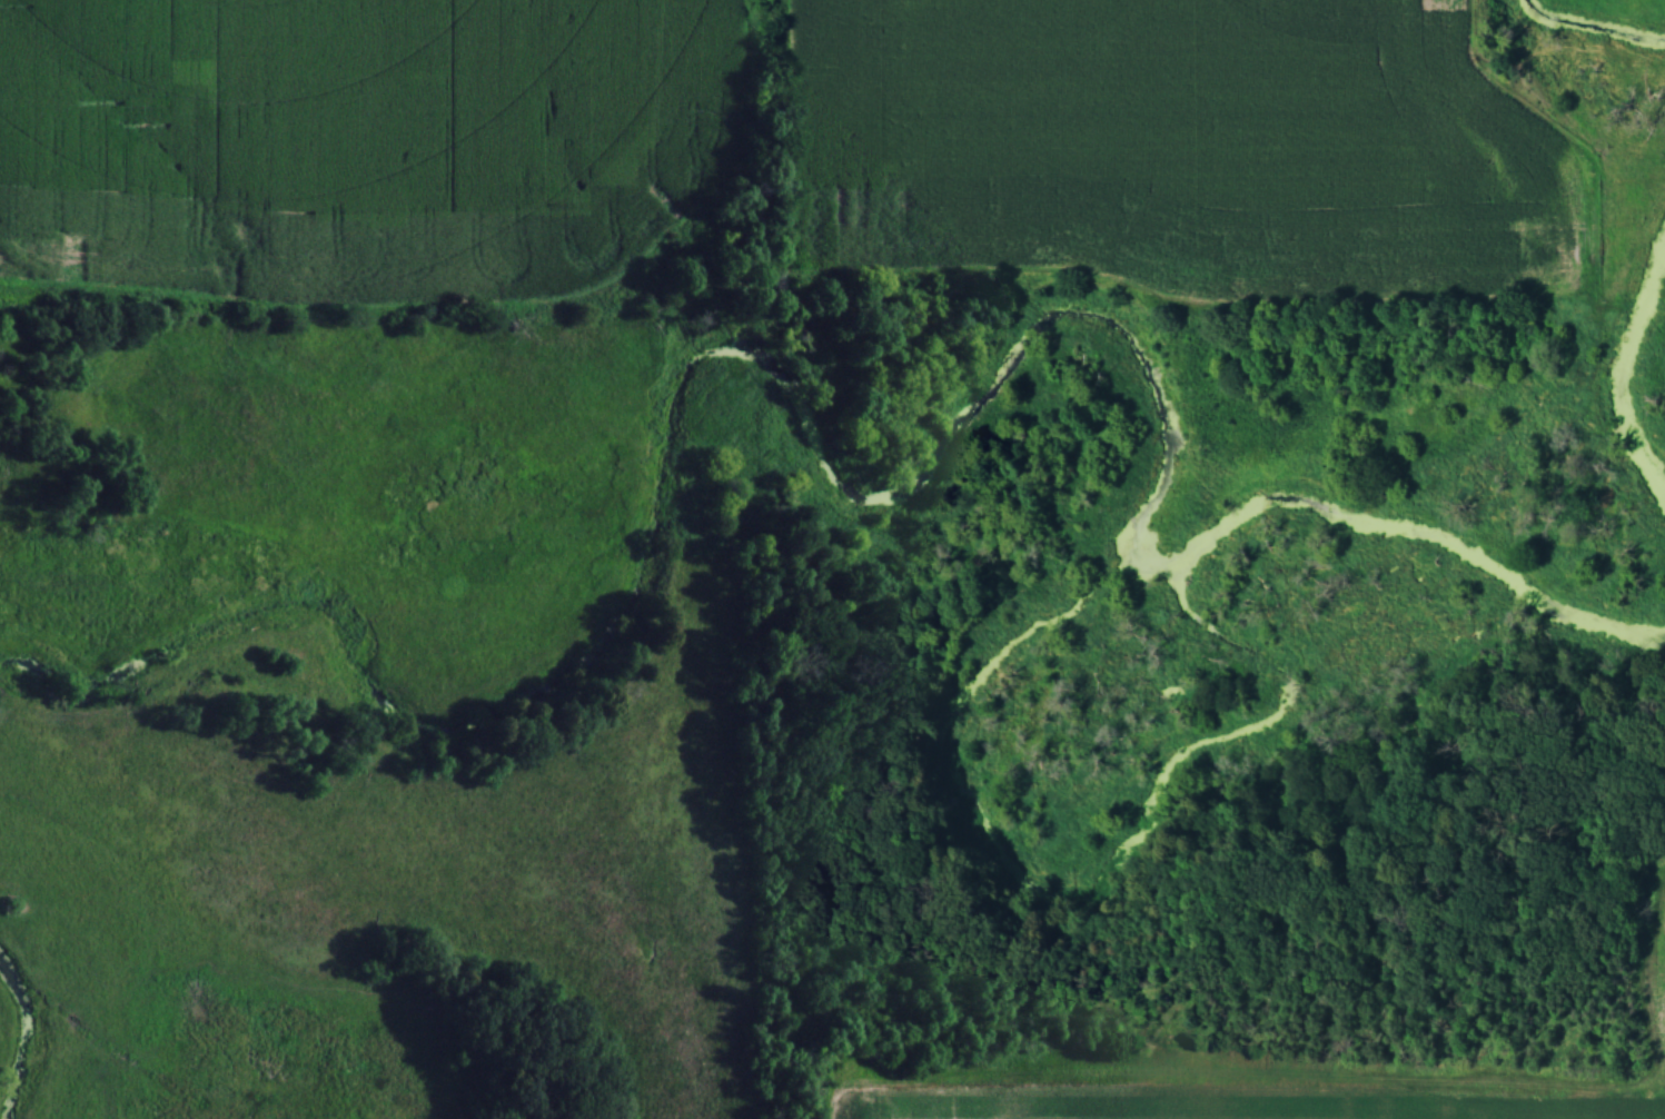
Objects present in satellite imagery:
river: (1590, 23)
river: (1617, 368)
river: (827, 471)
river: (23, 1038)

